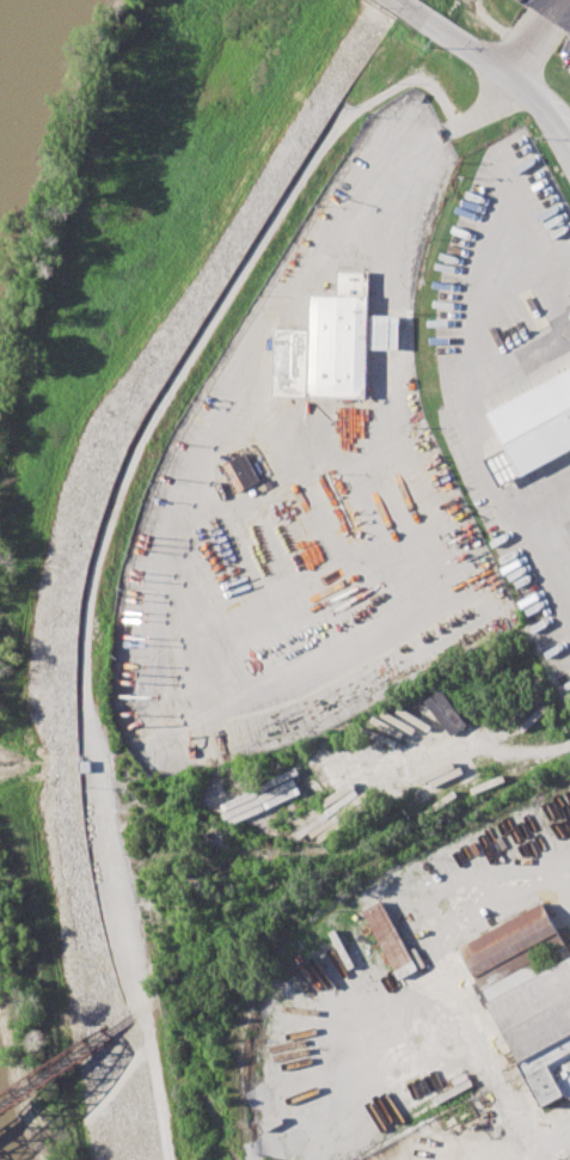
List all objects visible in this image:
road: (398, 4)
parking lot: (552, 10)
road: (497, 25)
road: (533, 36)
parking lot: (566, 54)
road: (496, 66)
road: (488, 108)
road: (398, 169)
building: (384, 331)
building: (326, 343)
parking lot: (510, 370)
road: (458, 376)
building: (535, 421)
building: (241, 470)
road: (554, 502)
parking lot: (302, 506)
road: (103, 545)
building: (445, 712)
building: (390, 940)
building: (526, 995)
road: (474, 1034)
railway: (69, 1063)
road: (550, 1130)

